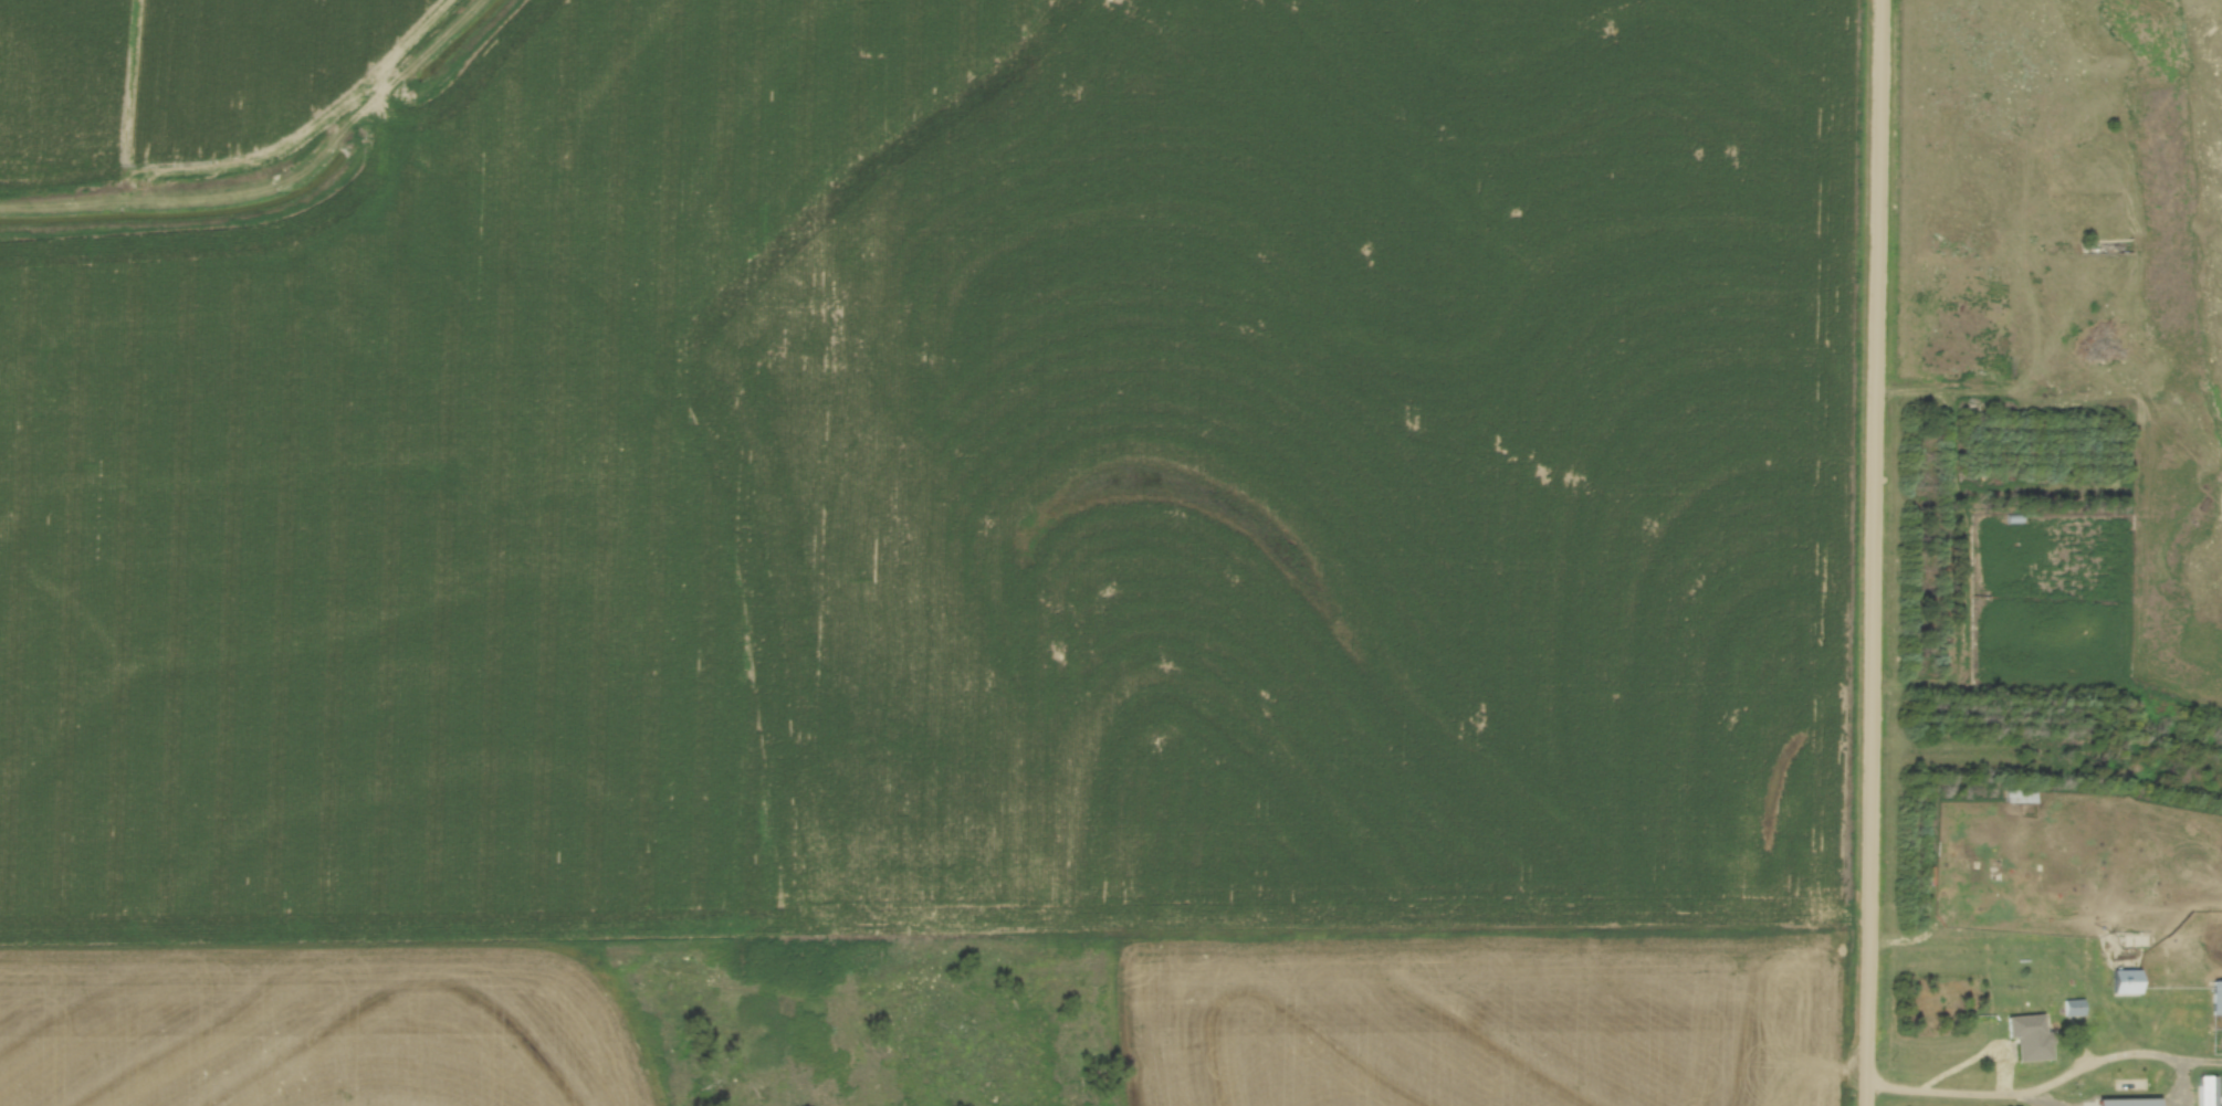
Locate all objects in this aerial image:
road: (1869, 552)
building: (2128, 982)
building: (2218, 998)
building: (2075, 1008)
building: (2032, 1036)
road: (2044, 1088)
building: (2210, 1091)

